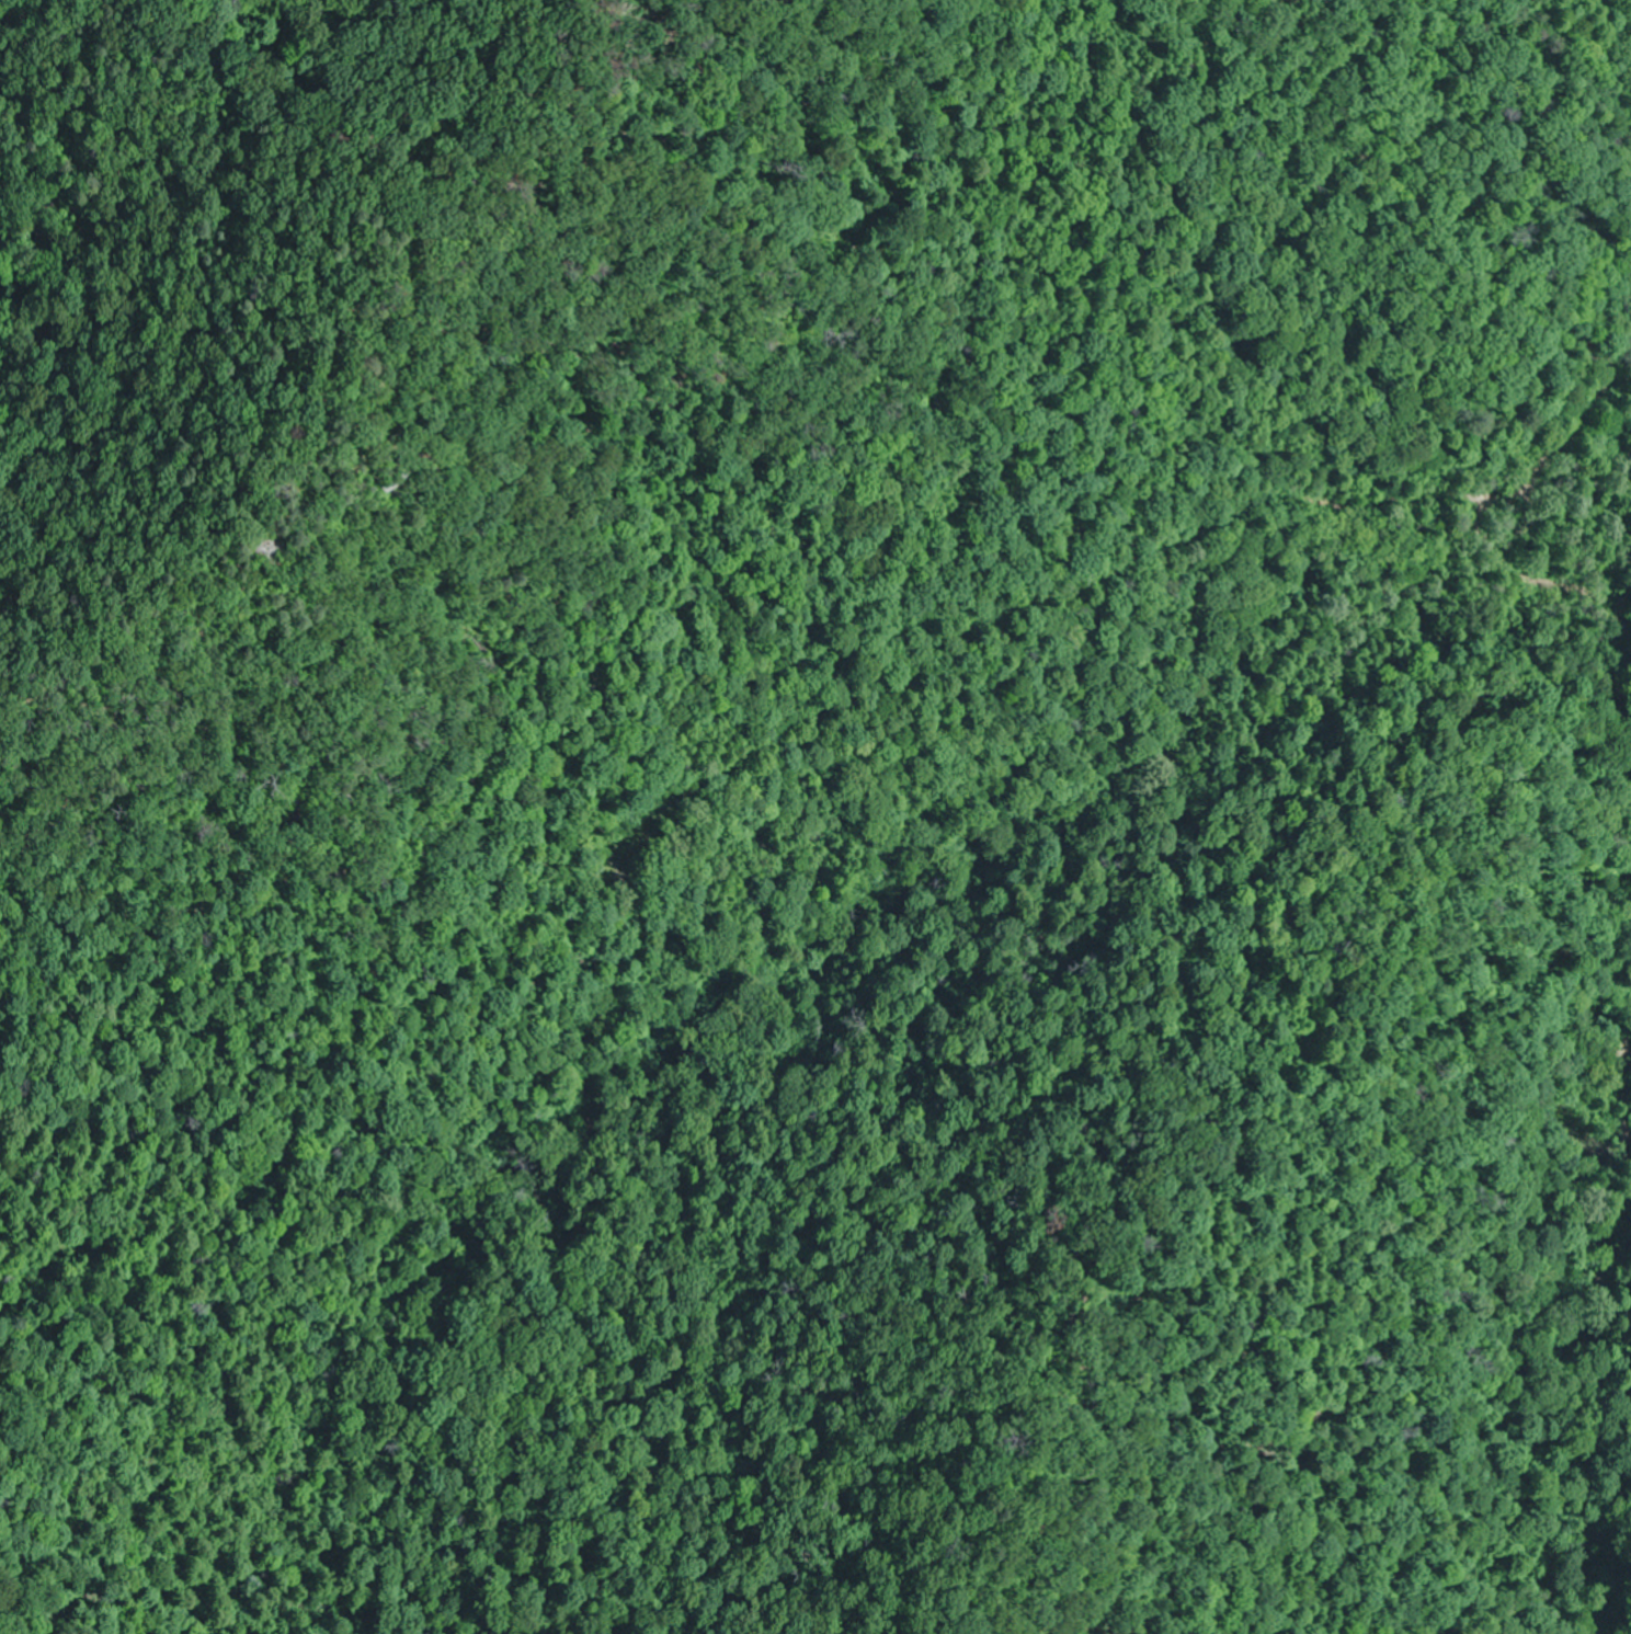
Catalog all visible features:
road: (1577, 426)

